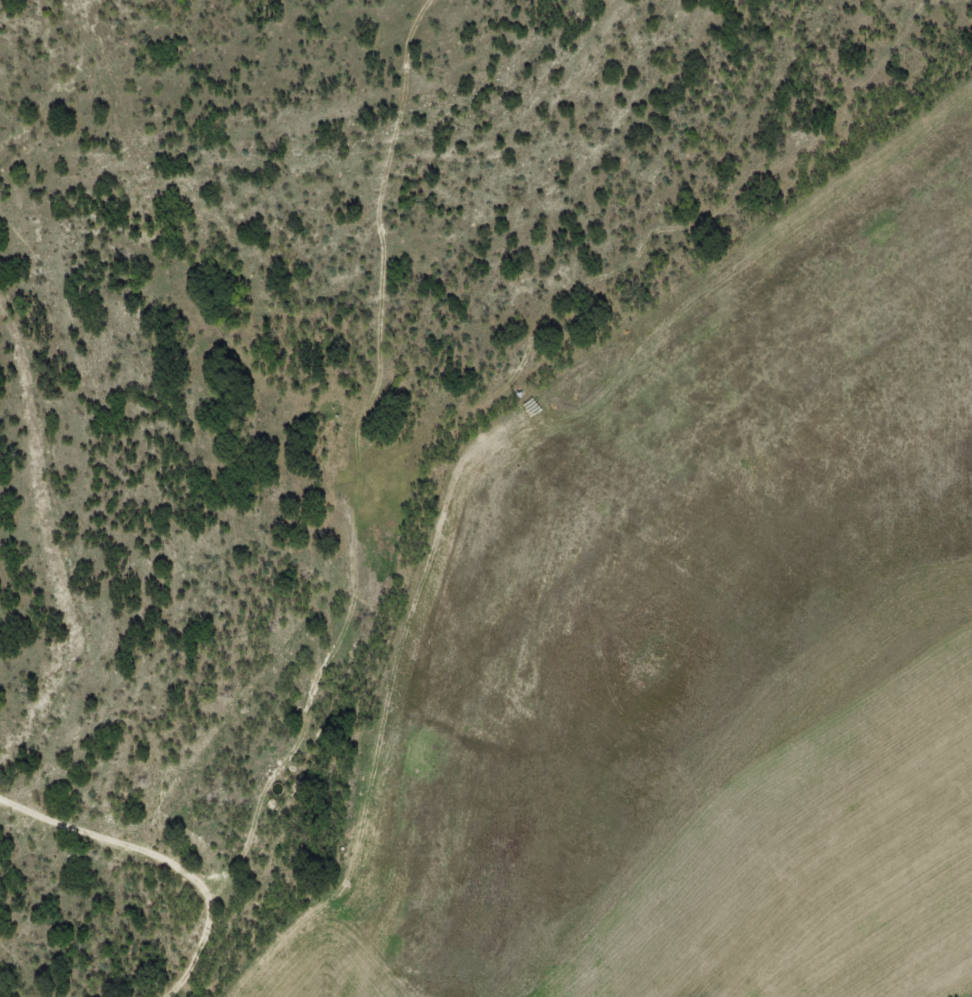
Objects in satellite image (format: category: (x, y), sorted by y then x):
road: (141, 869)

